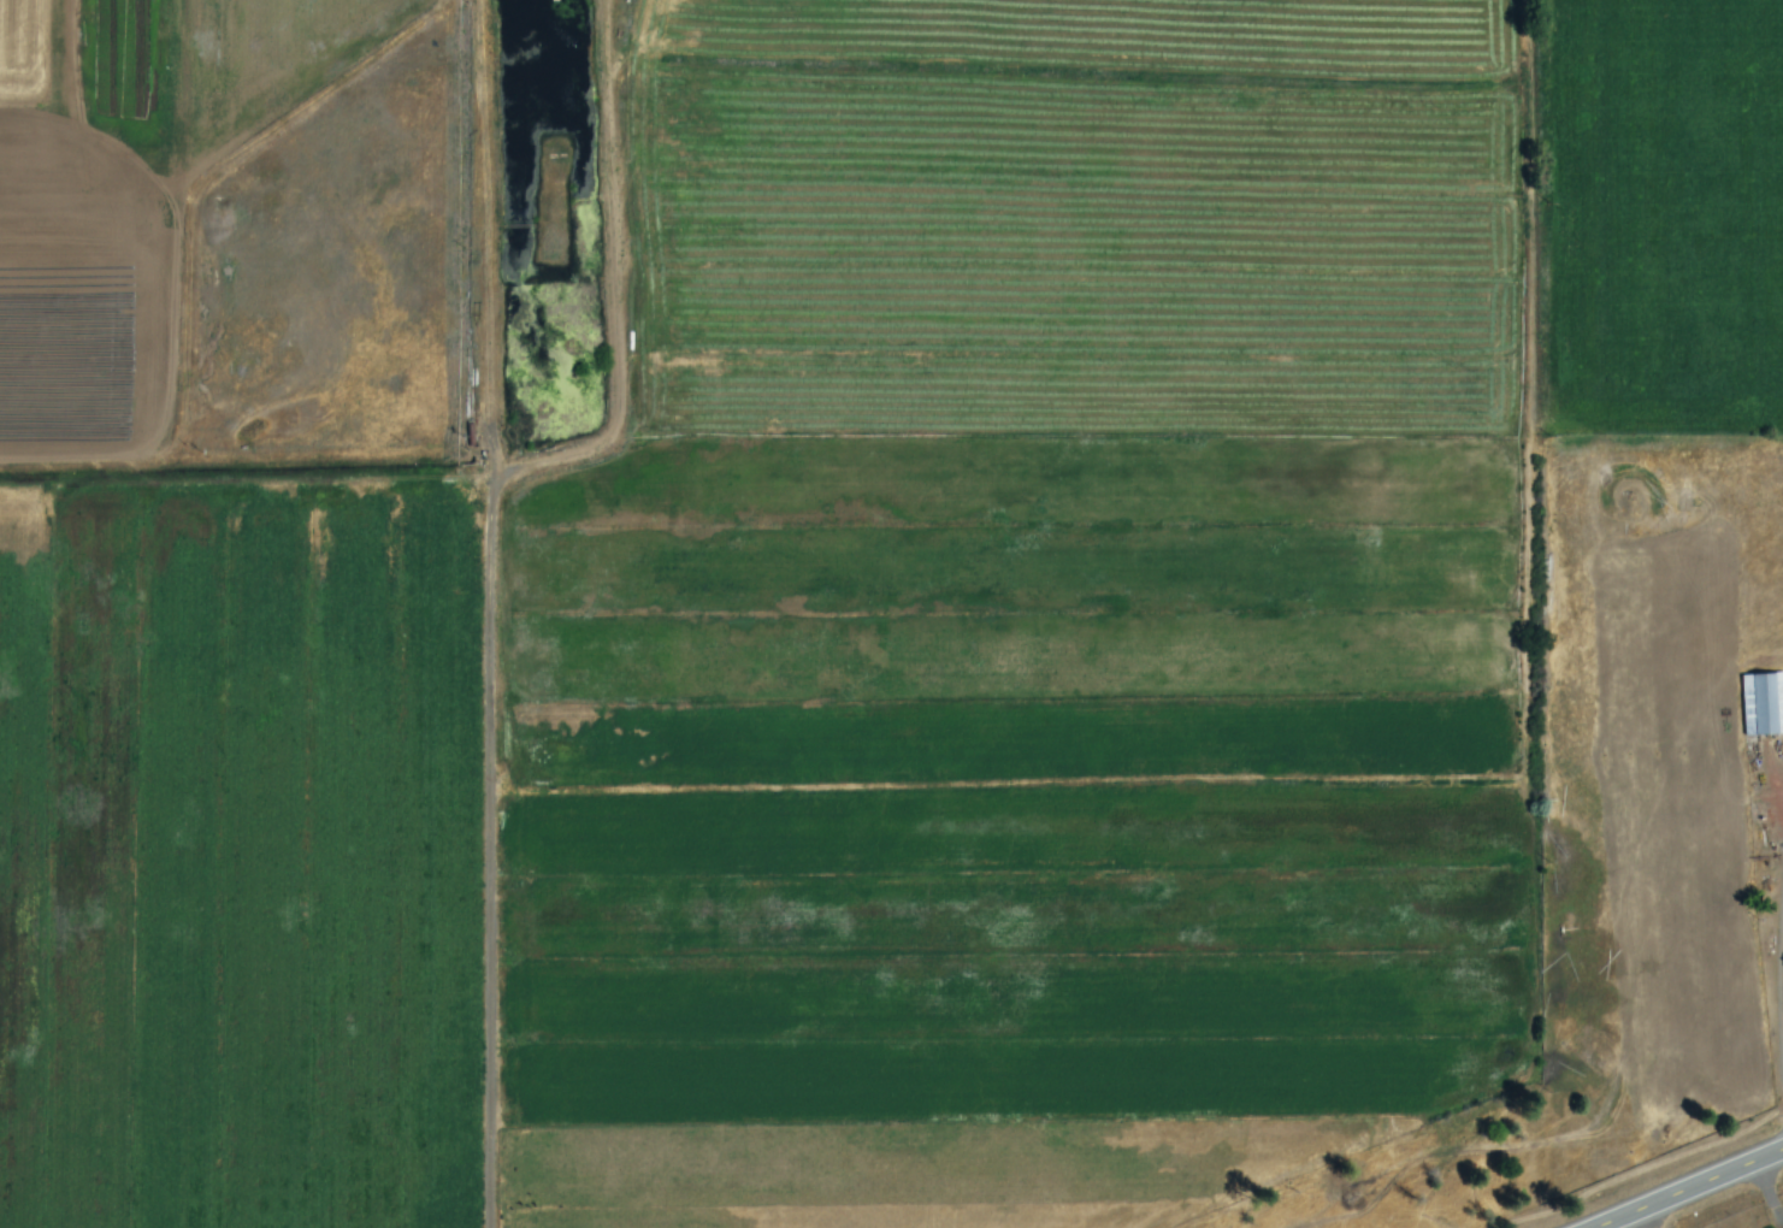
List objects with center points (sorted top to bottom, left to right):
building: (1764, 705)
road: (491, 962)
road: (1701, 1194)

